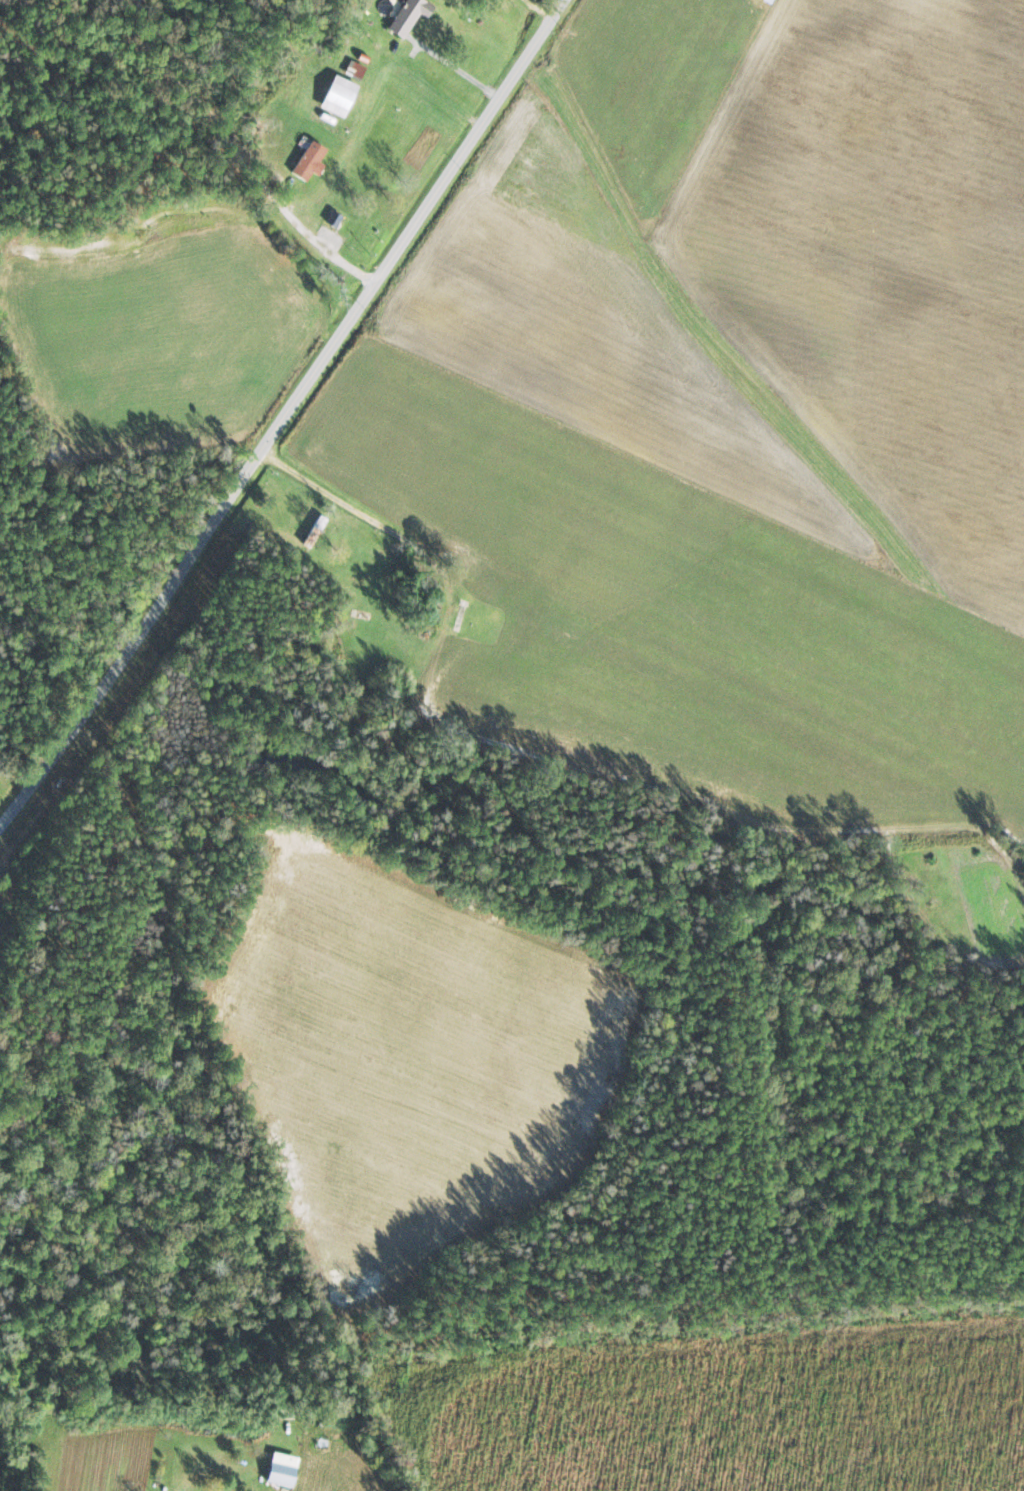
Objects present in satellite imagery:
building: (766, 1)
road: (548, 7)
building: (409, 16)
building: (356, 69)
building: (338, 96)
road: (236, 156)
building: (334, 220)
road: (289, 412)
building: (313, 531)
building: (281, 1469)

